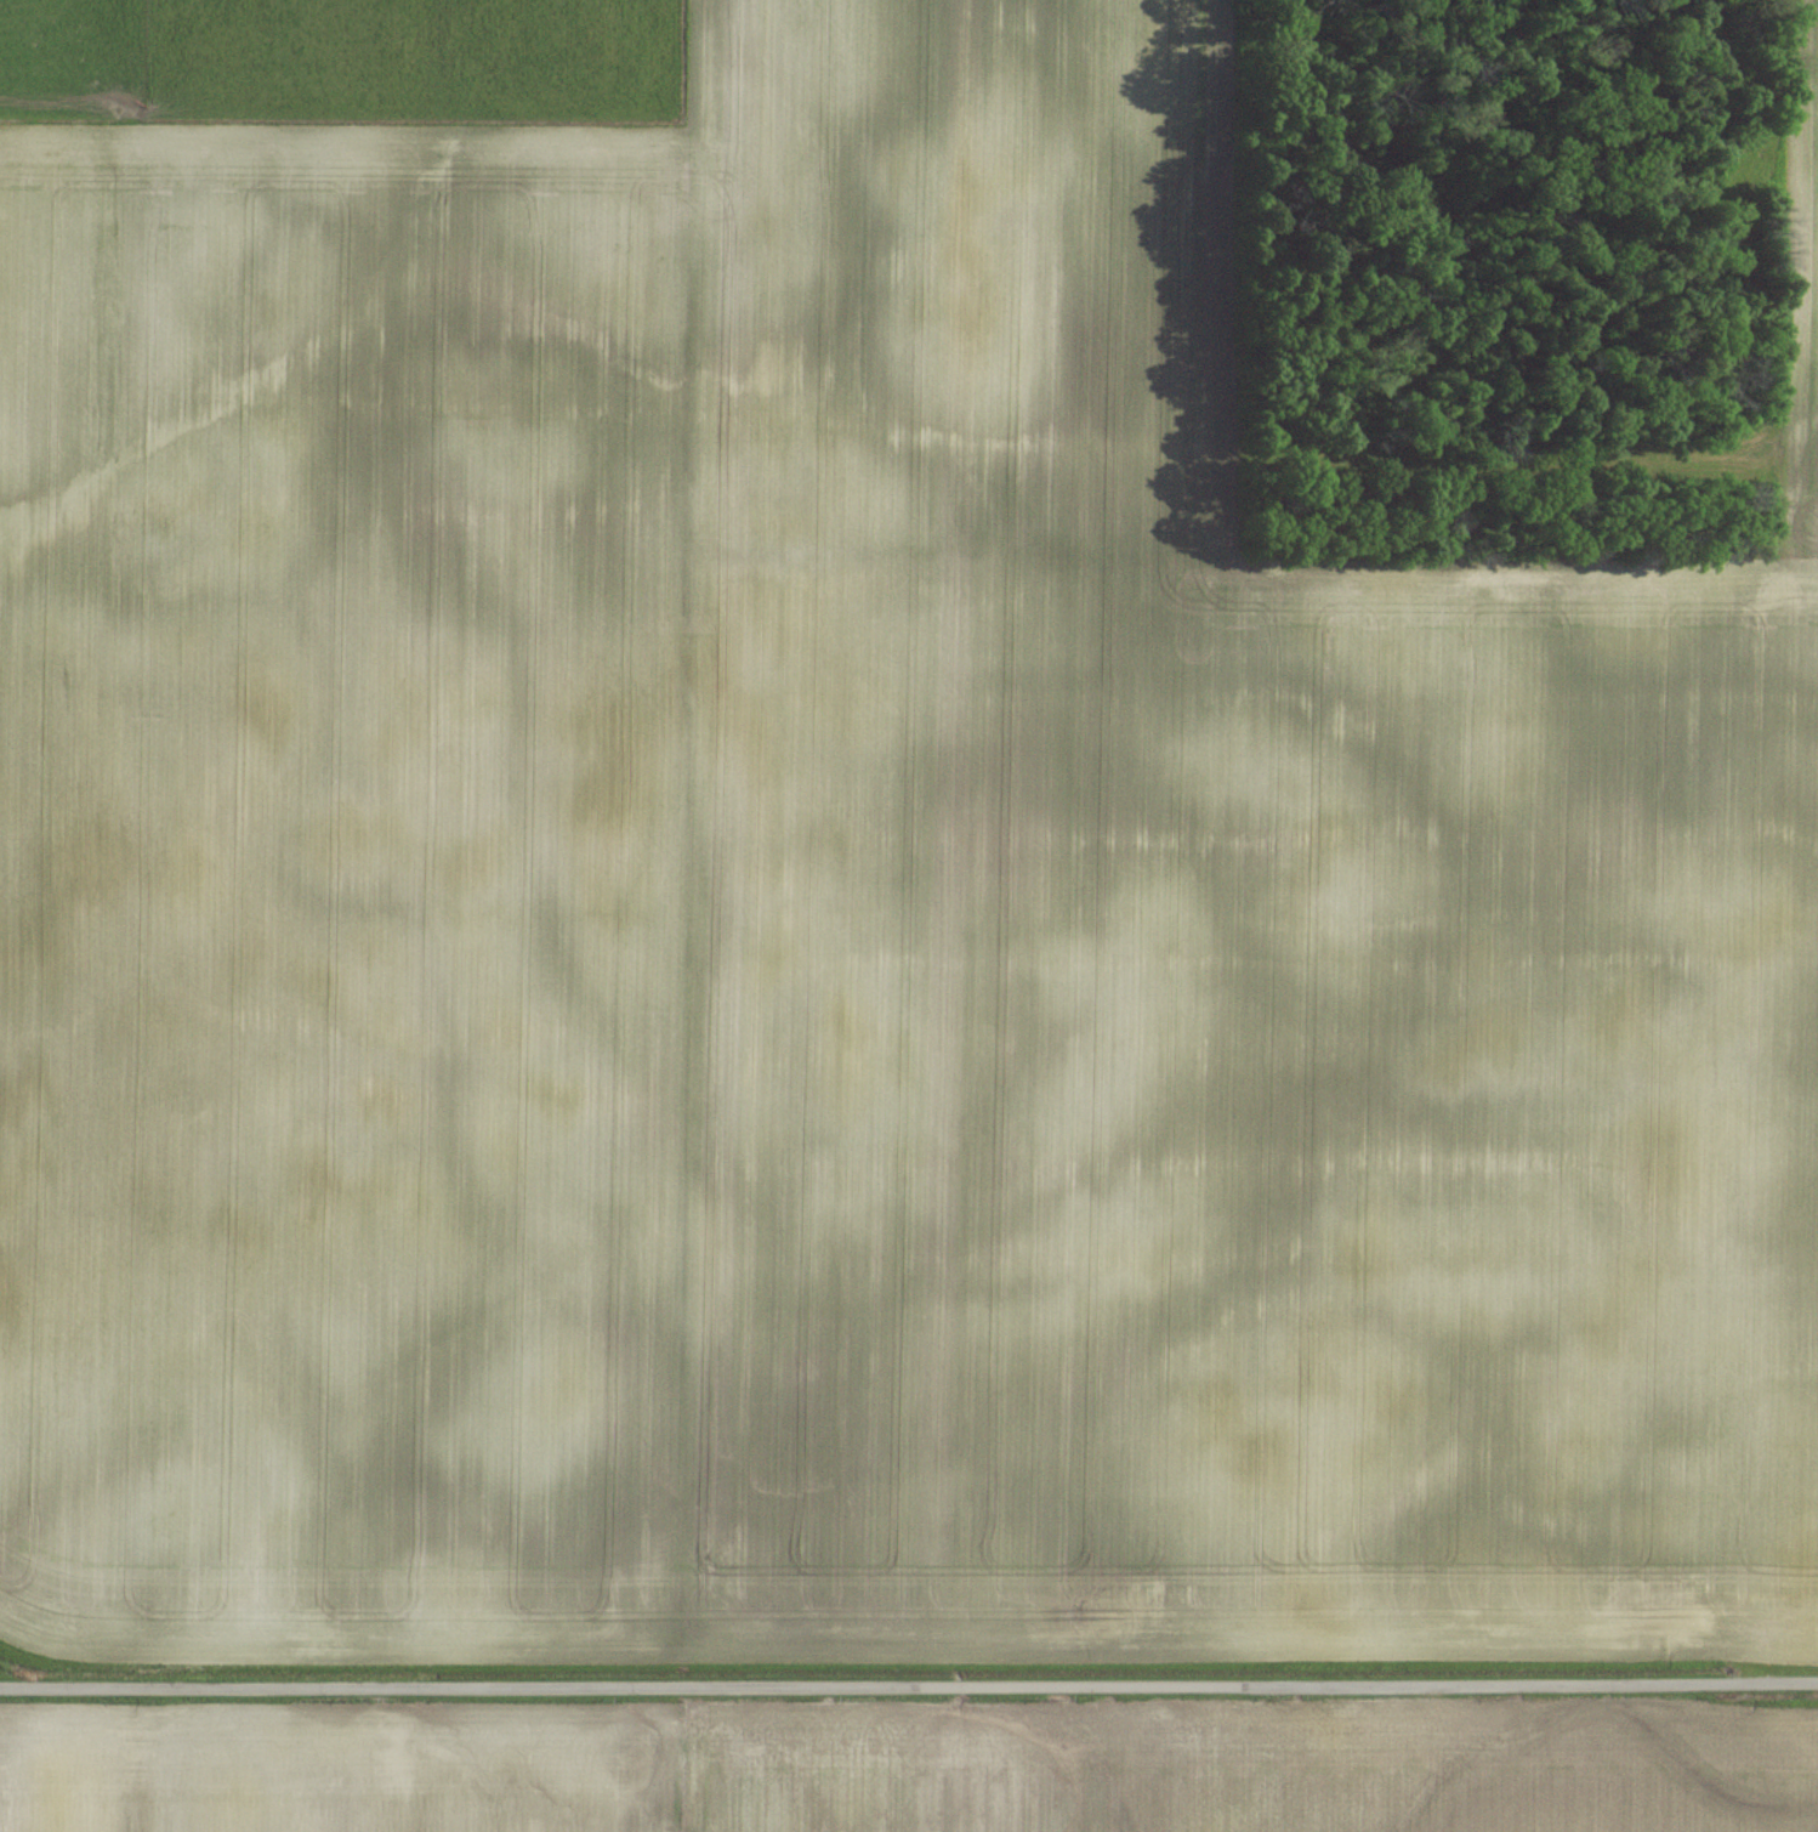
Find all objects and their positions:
road: (909, 1686)

